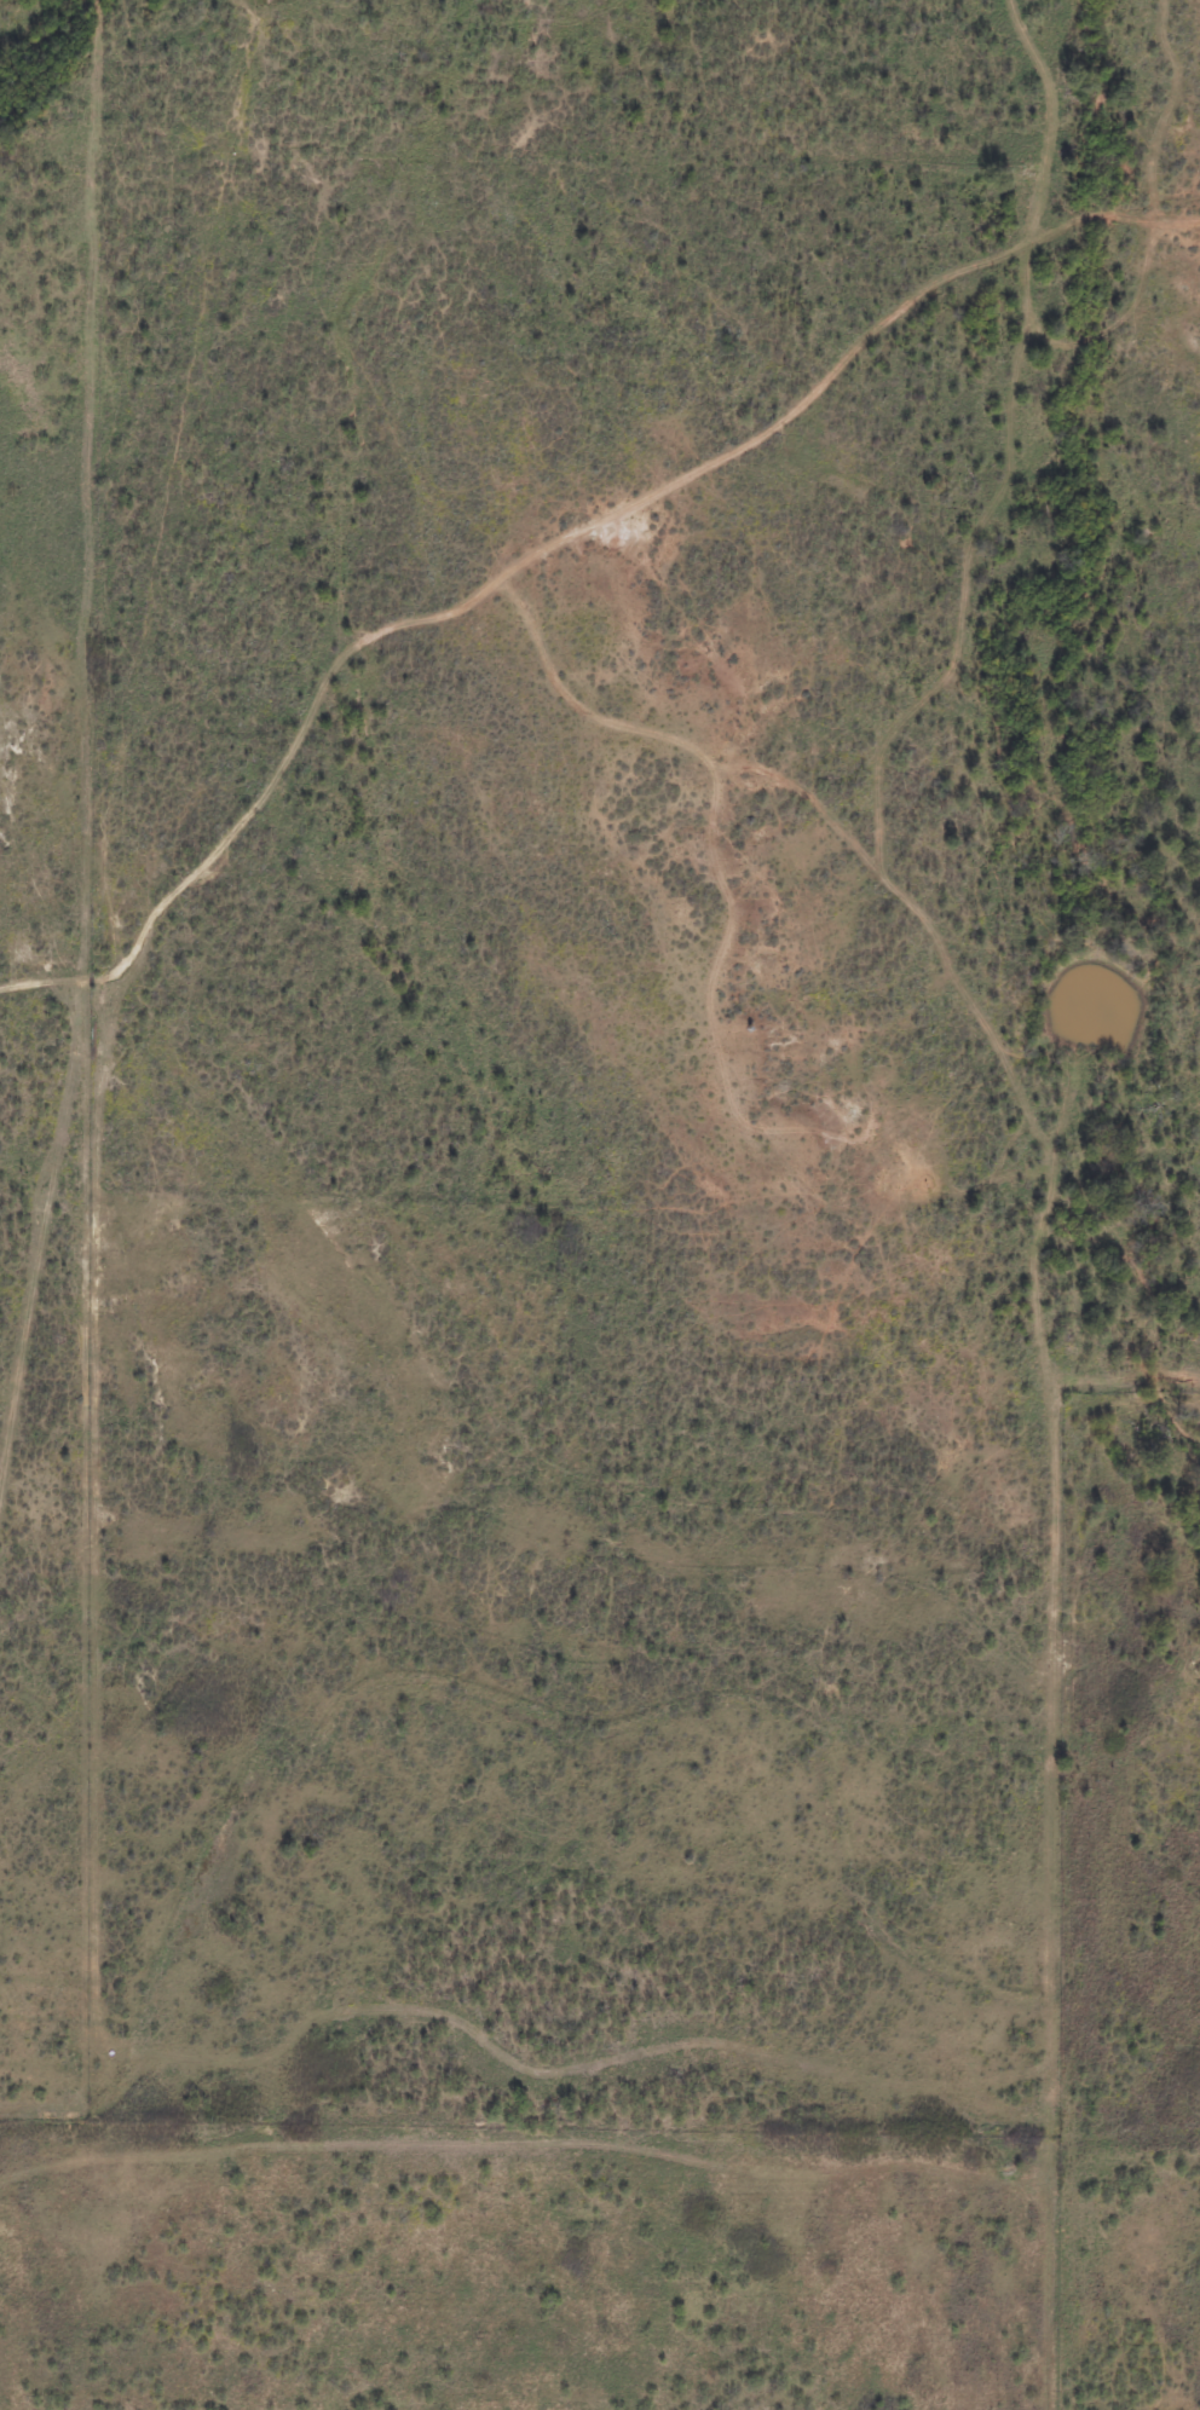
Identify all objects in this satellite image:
road: (562, 554)

